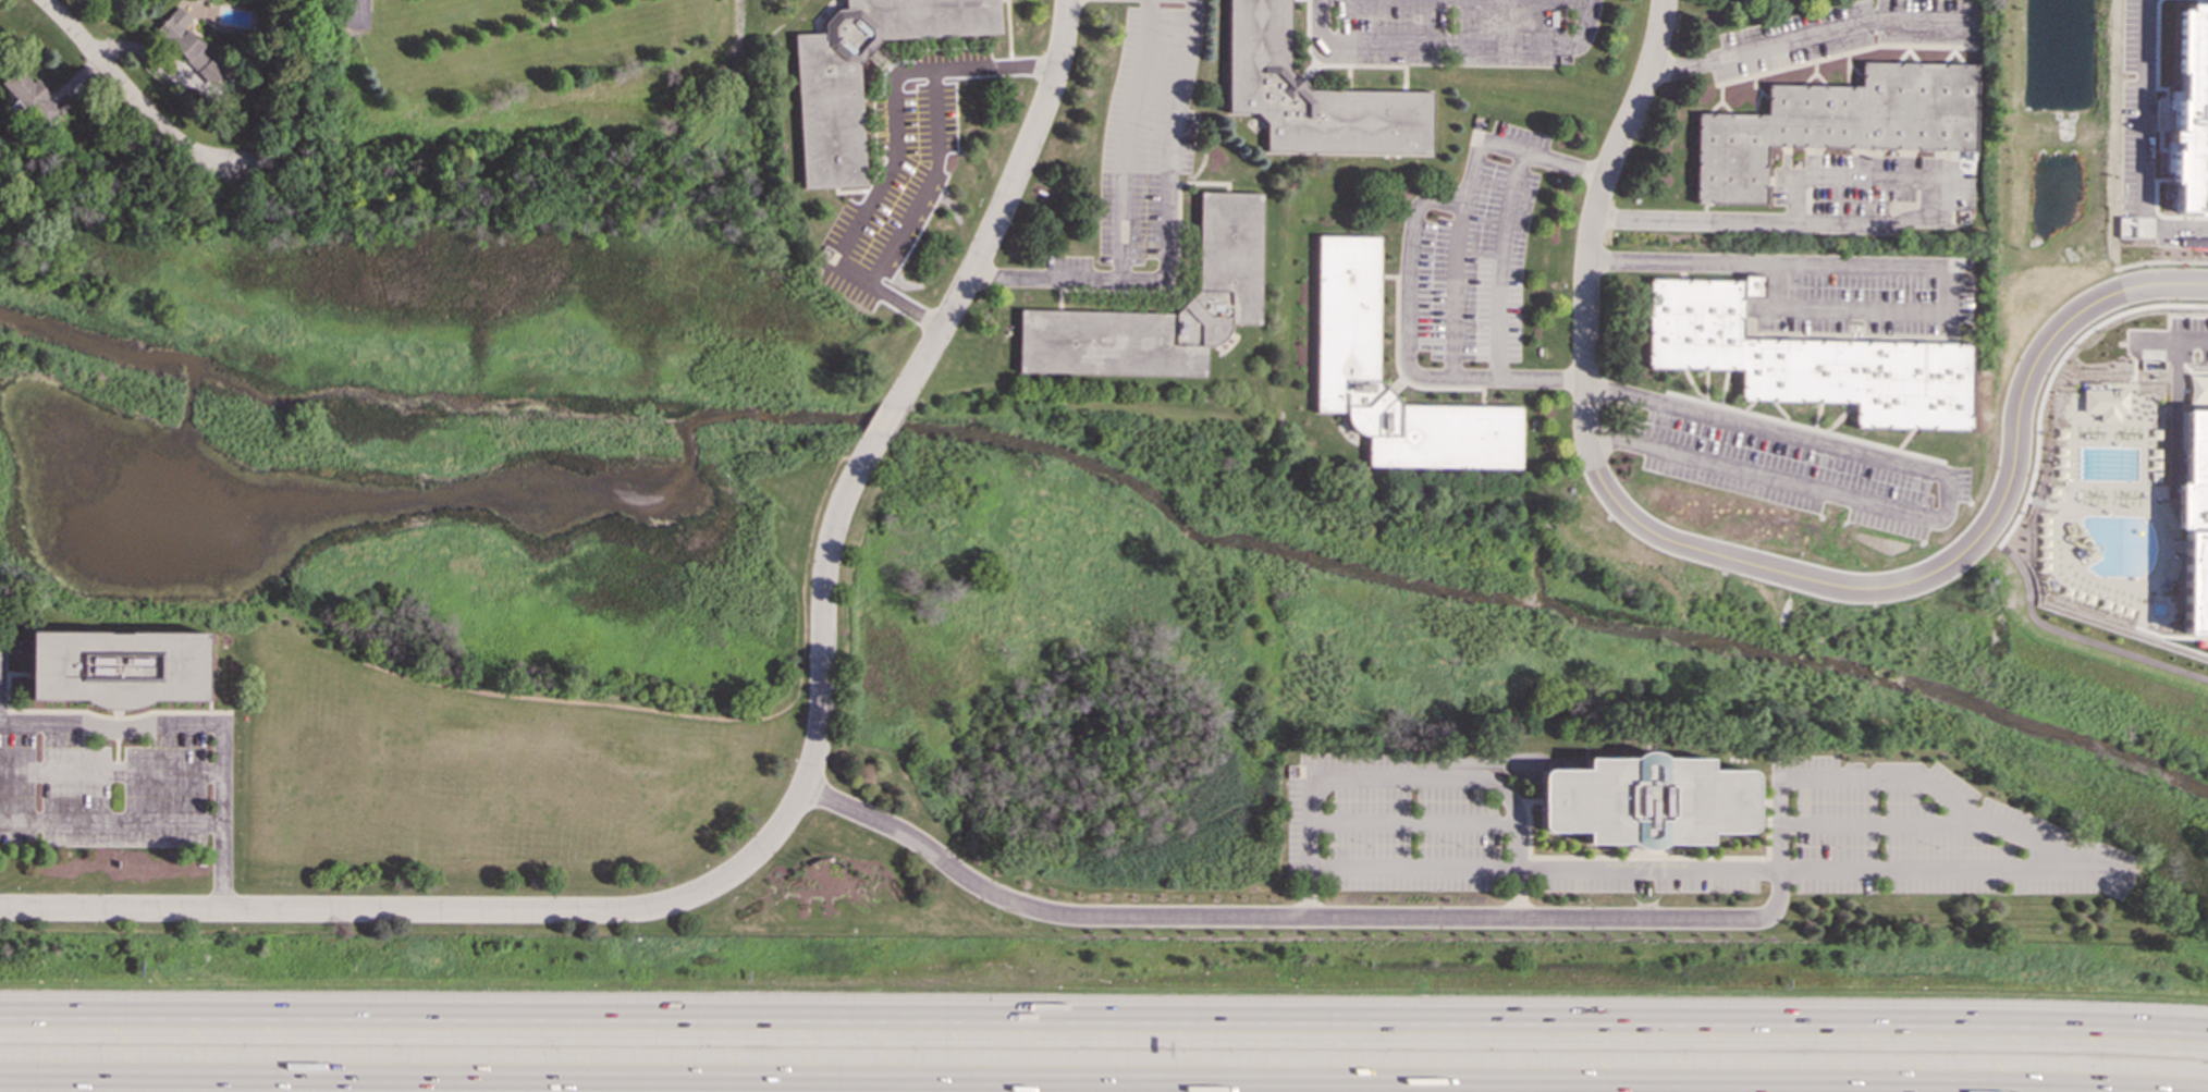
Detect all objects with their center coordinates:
road: (356, 13)
parking lot: (1450, 32)
parking lot: (1842, 33)
road: (1805, 35)
road: (1449, 42)
building: (191, 48)
building: (1312, 95)
building: (30, 96)
road: (134, 97)
road: (892, 97)
building: (2191, 112)
building: (827, 124)
building: (1837, 124)
road: (1126, 138)
parking lot: (1141, 150)
parking lot: (898, 174)
road: (927, 184)
parking lot: (1863, 191)
road: (1002, 205)
road: (1885, 223)
road: (1590, 228)
road: (1166, 232)
building: (1228, 242)
road: (1409, 254)
parking lot: (1471, 255)
road: (2161, 262)
road: (1498, 263)
road: (1899, 267)
road: (1453, 292)
parking lot: (1874, 294)
road: (886, 296)
building: (1346, 309)
parking lot: (2192, 334)
road: (2171, 339)
building: (1807, 359)
road: (2191, 371)
road: (2052, 375)
building: (2107, 404)
road: (2175, 410)
road: (887, 421)
parking lot: (1796, 467)
road: (1946, 493)
building: (2194, 522)
road: (1960, 554)
road: (2080, 638)
road: (0, 663)
building: (116, 667)
road: (205, 723)
road: (111, 769)
road: (1400, 775)
building: (1644, 801)
road: (111, 819)
road: (1918, 870)
road: (1516, 893)
road: (602, 911)
road: (1287, 917)
road: (1104, 1018)
road: (1090, 1082)

